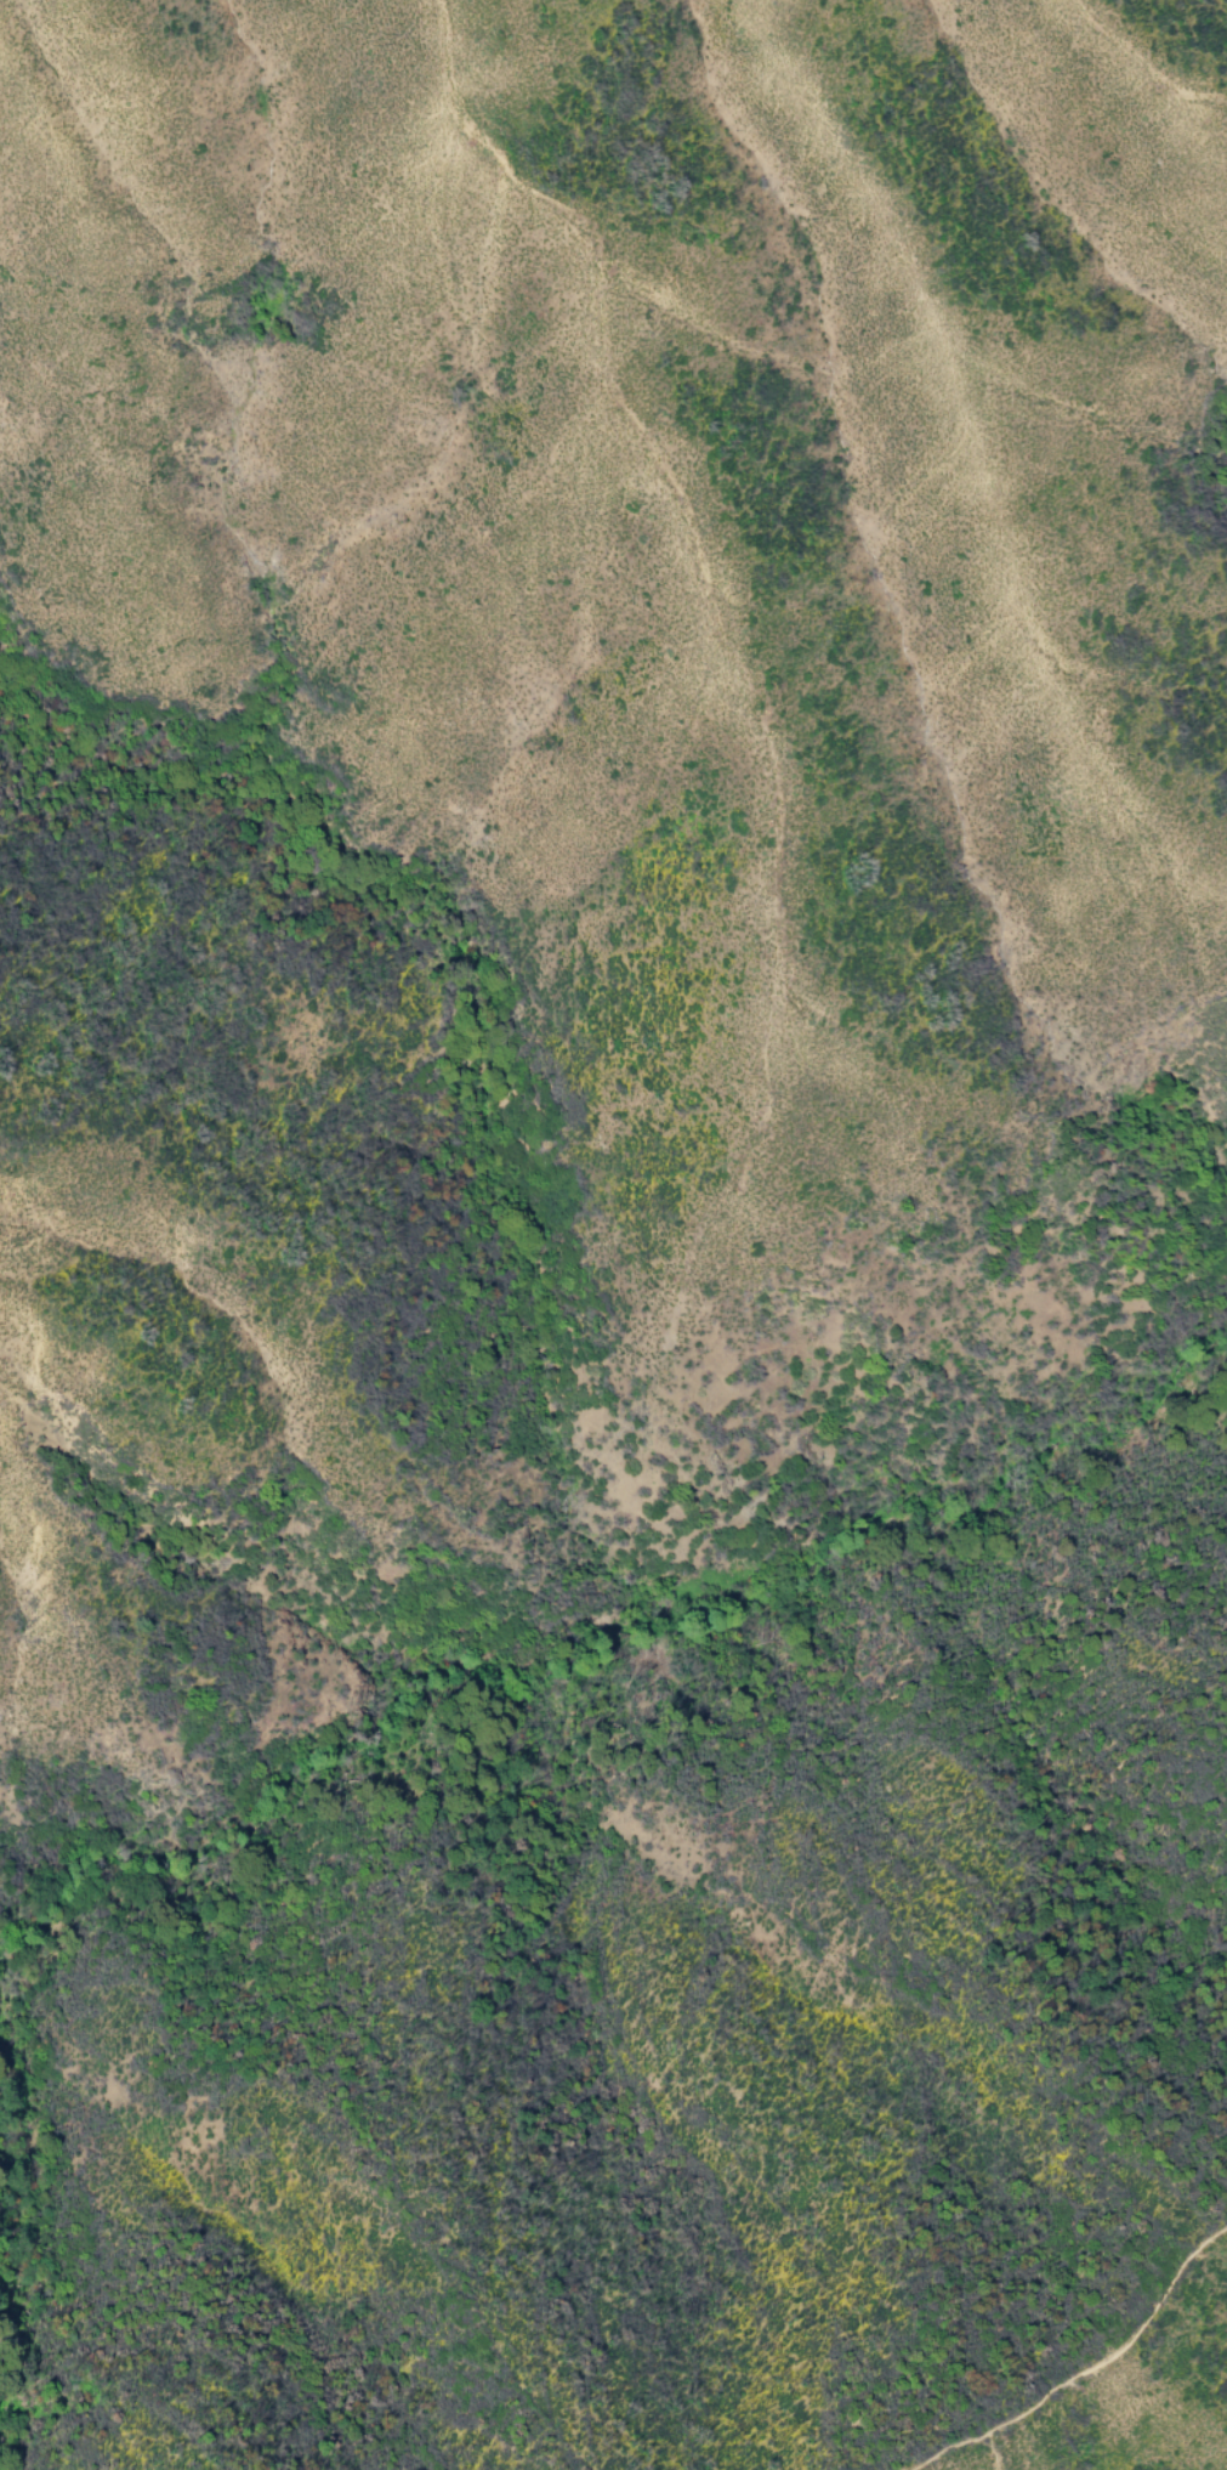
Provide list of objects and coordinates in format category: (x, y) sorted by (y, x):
road: (1123, 2355)
road: (944, 2451)
road: (988, 2453)

